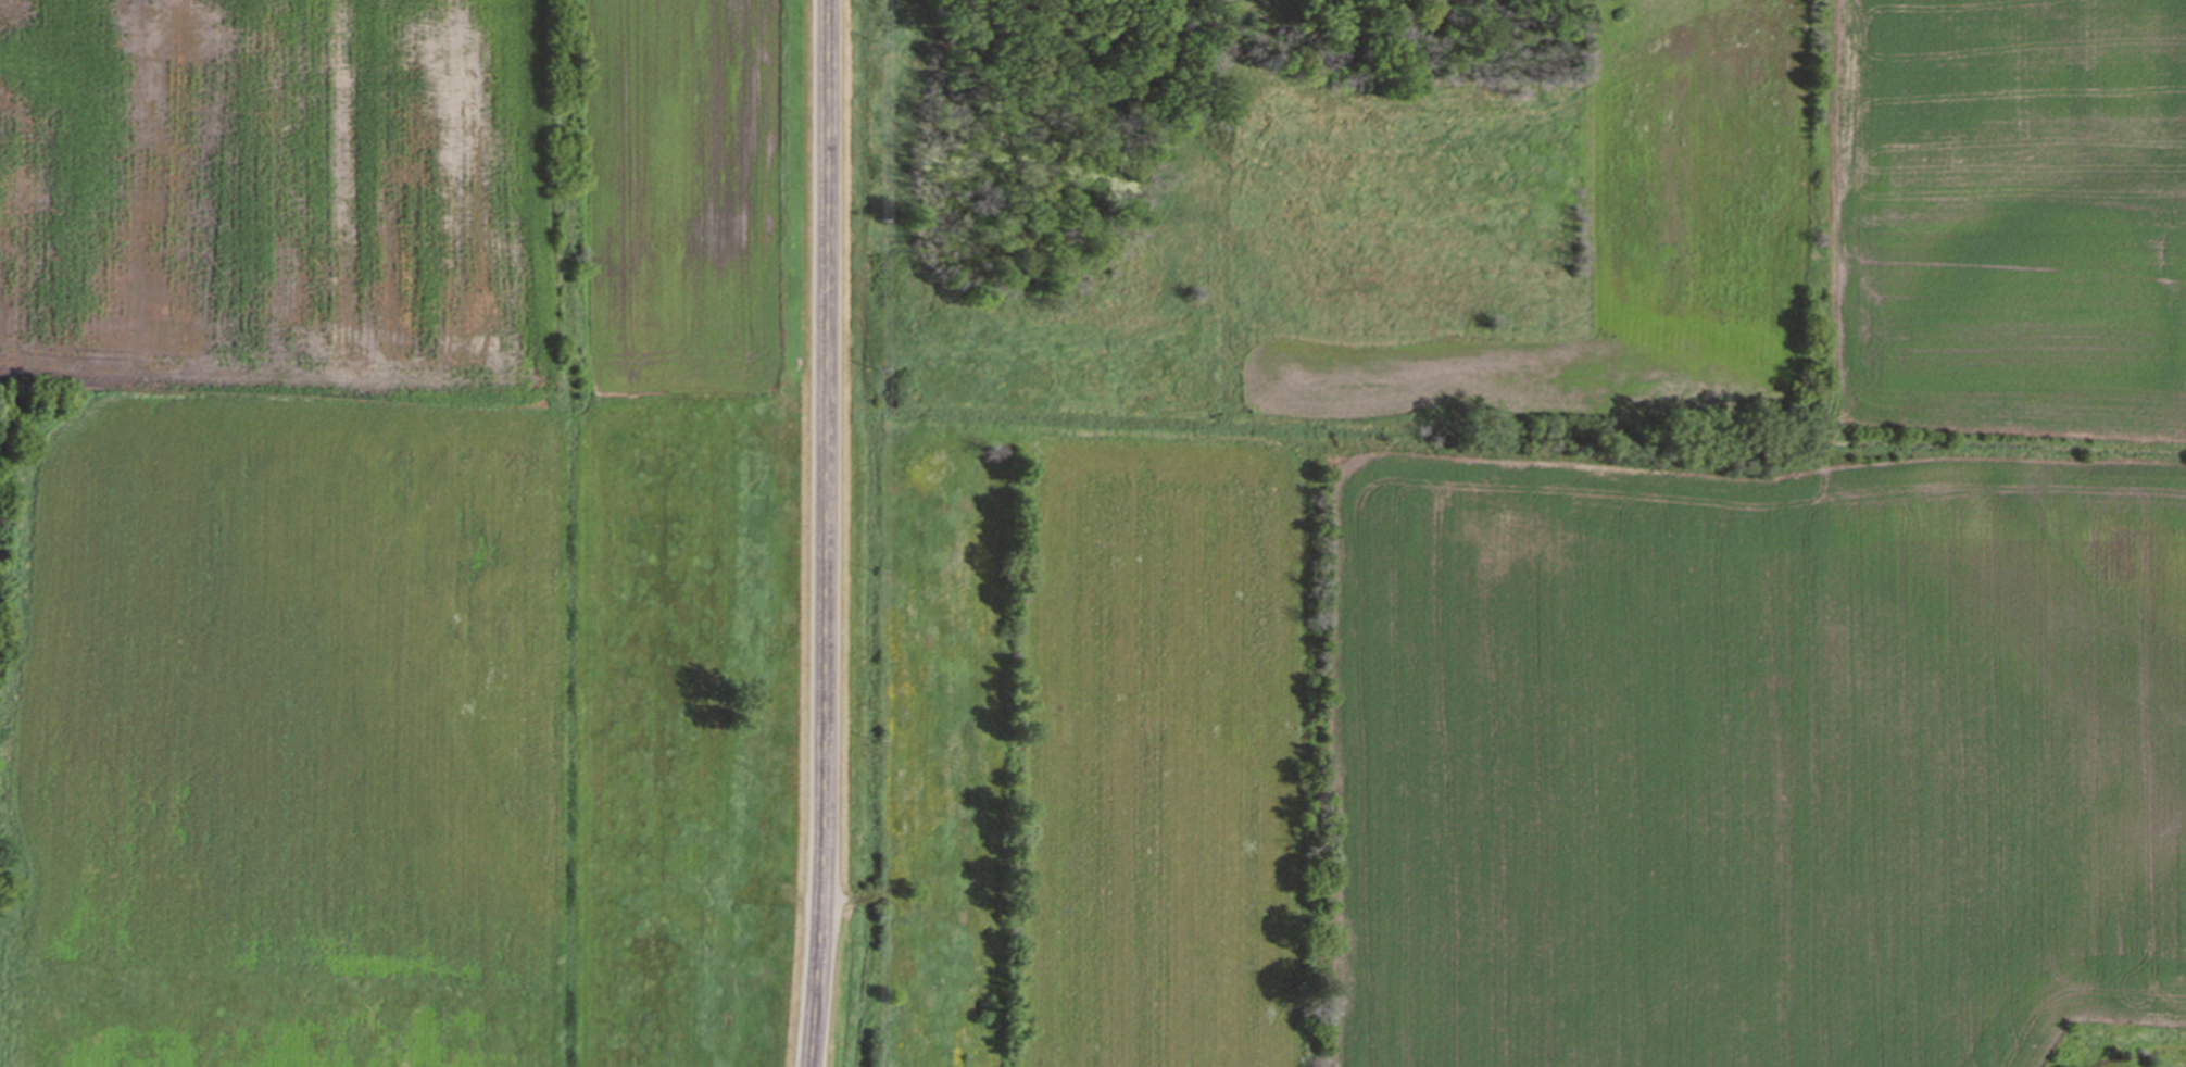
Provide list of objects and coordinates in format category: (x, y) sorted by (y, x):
road: (821, 533)
crop: (1609, 617)

